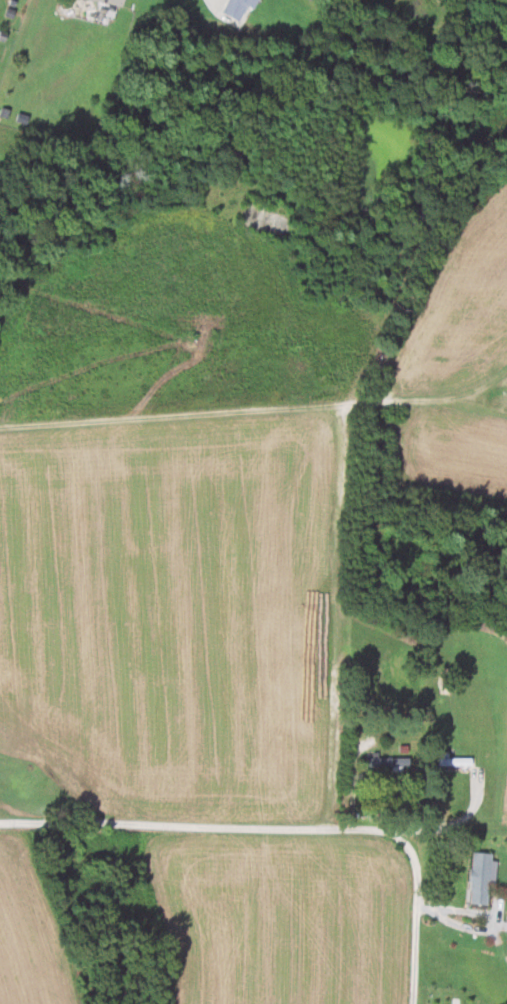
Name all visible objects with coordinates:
building: (112, 1)
building: (234, 7)
building: (453, 761)
building: (391, 762)
road: (442, 826)
road: (285, 827)
building: (477, 878)
road: (485, 916)

